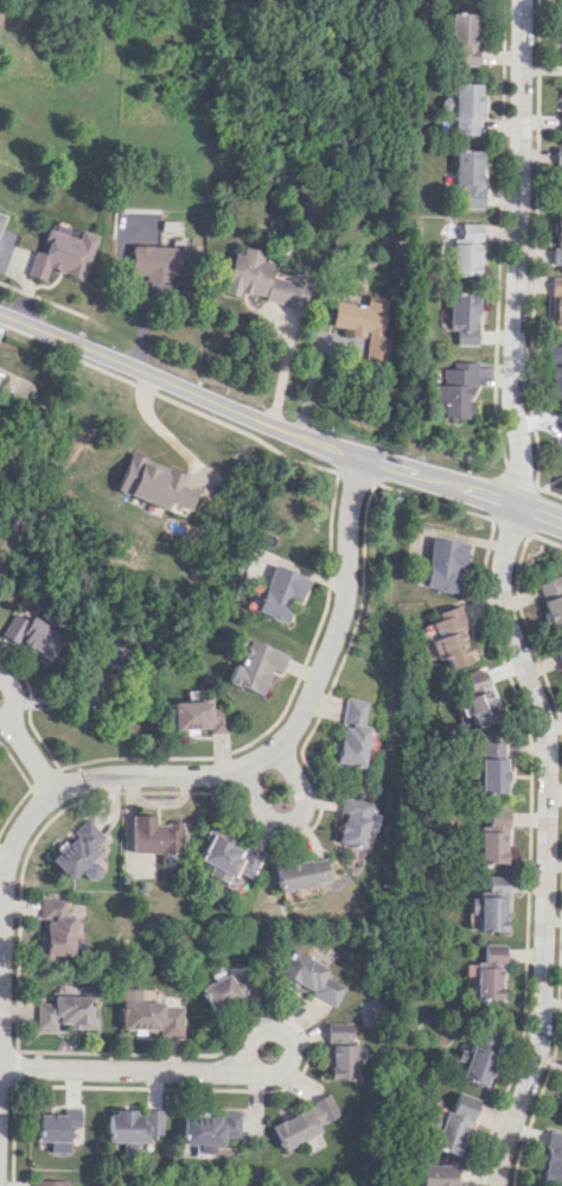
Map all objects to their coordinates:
building: (464, 38)
building: (466, 108)
building: (558, 121)
building: (557, 173)
building: (468, 176)
building: (1, 216)
building: (557, 237)
building: (466, 249)
road: (518, 252)
building: (62, 254)
building: (160, 261)
building: (263, 280)
road: (43, 298)
building: (556, 304)
building: (464, 317)
building: (363, 323)
building: (0, 373)
building: (458, 388)
road: (207, 414)
road: (277, 426)
road: (161, 429)
building: (558, 442)
road: (356, 476)
road: (521, 477)
building: (155, 483)
road: (549, 491)
road: (433, 500)
road: (531, 510)
road: (511, 525)
road: (545, 539)
building: (445, 564)
building: (279, 592)
building: (553, 602)
road: (529, 632)
building: (32, 635)
building: (448, 638)
building: (561, 659)
building: (253, 666)
road: (12, 697)
building: (479, 698)
road: (280, 708)
road: (26, 710)
building: (194, 717)
building: (347, 732)
road: (27, 753)
road: (14, 765)
building: (490, 766)
road: (202, 770)
road: (40, 775)
road: (12, 803)
road: (237, 814)
road: (287, 818)
building: (350, 822)
building: (148, 835)
building: (491, 841)
road: (545, 843)
building: (75, 851)
building: (221, 860)
building: (295, 873)
building: (490, 905)
building: (53, 927)
building: (488, 972)
building: (308, 977)
road: (557, 989)
building: (223, 990)
building: (63, 1013)
building: (147, 1014)
road: (274, 1028)
building: (340, 1051)
building: (474, 1063)
road: (13, 1067)
road: (126, 1070)
building: (561, 1112)
building: (304, 1122)
building: (454, 1124)
building: (132, 1125)
building: (56, 1128)
building: (209, 1130)
road: (11, 1135)
building: (553, 1160)
building: (436, 1174)
building: (49, 1182)

